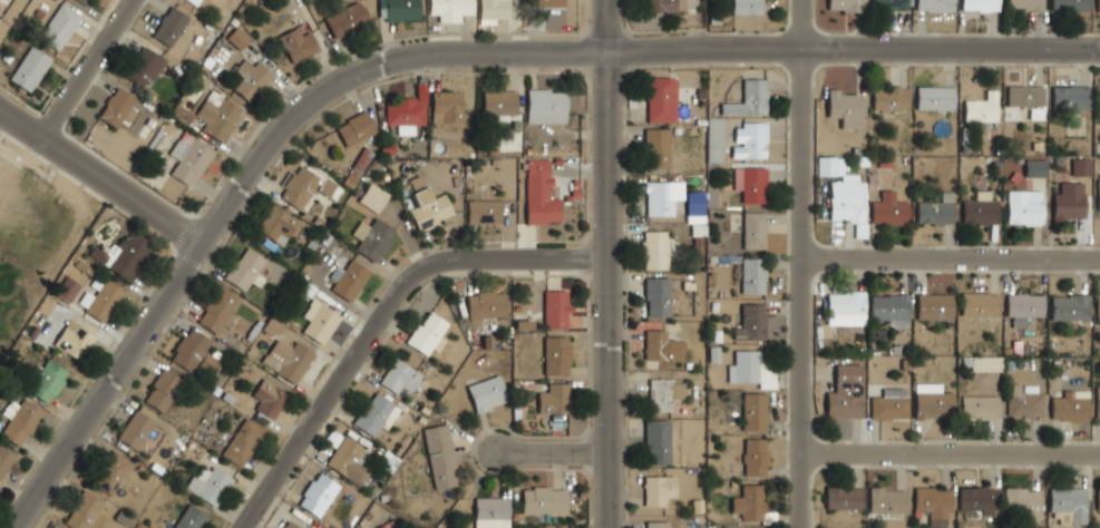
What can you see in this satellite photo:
building: (84, 1)
building: (192, 1)
building: (545, 2)
building: (663, 4)
building: (888, 4)
building: (934, 4)
building: (980, 4)
building: (1024, 4)
building: (1070, 4)
building: (846, 6)
building: (1098, 6)
building: (748, 7)
building: (400, 9)
building: (449, 9)
building: (494, 11)
road: (9, 13)
building: (347, 18)
road: (605, 25)
building: (60, 26)
building: (169, 26)
building: (239, 37)
building: (298, 43)
road: (853, 47)
building: (144, 67)
building: (30, 68)
road: (86, 68)
building: (251, 78)
building: (935, 97)
building: (1070, 97)
building: (660, 98)
building: (748, 98)
building: (889, 99)
building: (1026, 99)
building: (500, 102)
building: (446, 105)
building: (547, 105)
building: (115, 106)
building: (1099, 106)
building: (846, 108)
building: (981, 108)
building: (405, 111)
road: (2, 114)
building: (182, 114)
building: (217, 114)
building: (356, 128)
building: (713, 139)
building: (749, 140)
building: (656, 146)
building: (189, 159)
building: (828, 166)
building: (357, 167)
building: (1034, 167)
road: (99, 174)
road: (242, 180)
building: (750, 183)
building: (305, 185)
building: (539, 194)
building: (1099, 194)
building: (373, 197)
building: (672, 198)
building: (848, 202)
building: (1069, 203)
building: (428, 205)
building: (1024, 207)
building: (980, 208)
building: (888, 209)
building: (936, 209)
building: (484, 212)
building: (275, 223)
building: (753, 231)
building: (373, 237)
building: (654, 248)
building: (121, 255)
road: (951, 257)
road: (801, 264)
building: (244, 267)
building: (753, 274)
building: (348, 280)
building: (66, 289)
road: (602, 289)
building: (656, 296)
building: (100, 300)
building: (486, 303)
building: (845, 304)
building: (980, 304)
building: (1024, 304)
building: (934, 306)
building: (1069, 306)
building: (556, 309)
building: (1098, 309)
building: (889, 310)
building: (218, 311)
road: (368, 312)
building: (320, 320)
building: (751, 322)
building: (428, 332)
building: (661, 346)
building: (189, 349)
building: (555, 354)
building: (288, 359)
building: (983, 362)
building: (210, 364)
building: (747, 365)
building: (399, 375)
building: (47, 381)
building: (162, 390)
building: (845, 391)
building: (487, 393)
building: (664, 393)
building: (269, 398)
building: (554, 398)
building: (1023, 400)
building: (932, 401)
building: (1098, 401)
building: (1071, 404)
building: (889, 407)
building: (979, 407)
building: (753, 411)
building: (373, 413)
building: (19, 420)
building: (136, 428)
building: (242, 441)
building: (658, 441)
road: (544, 451)
road: (950, 451)
building: (440, 456)
building: (755, 457)
building: (348, 459)
building: (4, 460)
building: (110, 472)
building: (208, 483)
building: (659, 490)
building: (318, 493)
building: (844, 497)
building: (544, 499)
building: (886, 499)
building: (977, 500)
building: (1098, 500)
building: (1023, 501)
building: (751, 503)
building: (1071, 503)
building: (933, 505)
building: (491, 509)
building: (84, 511)
building: (189, 518)
building: (656, 524)
building: (290, 525)
building: (387, 525)

